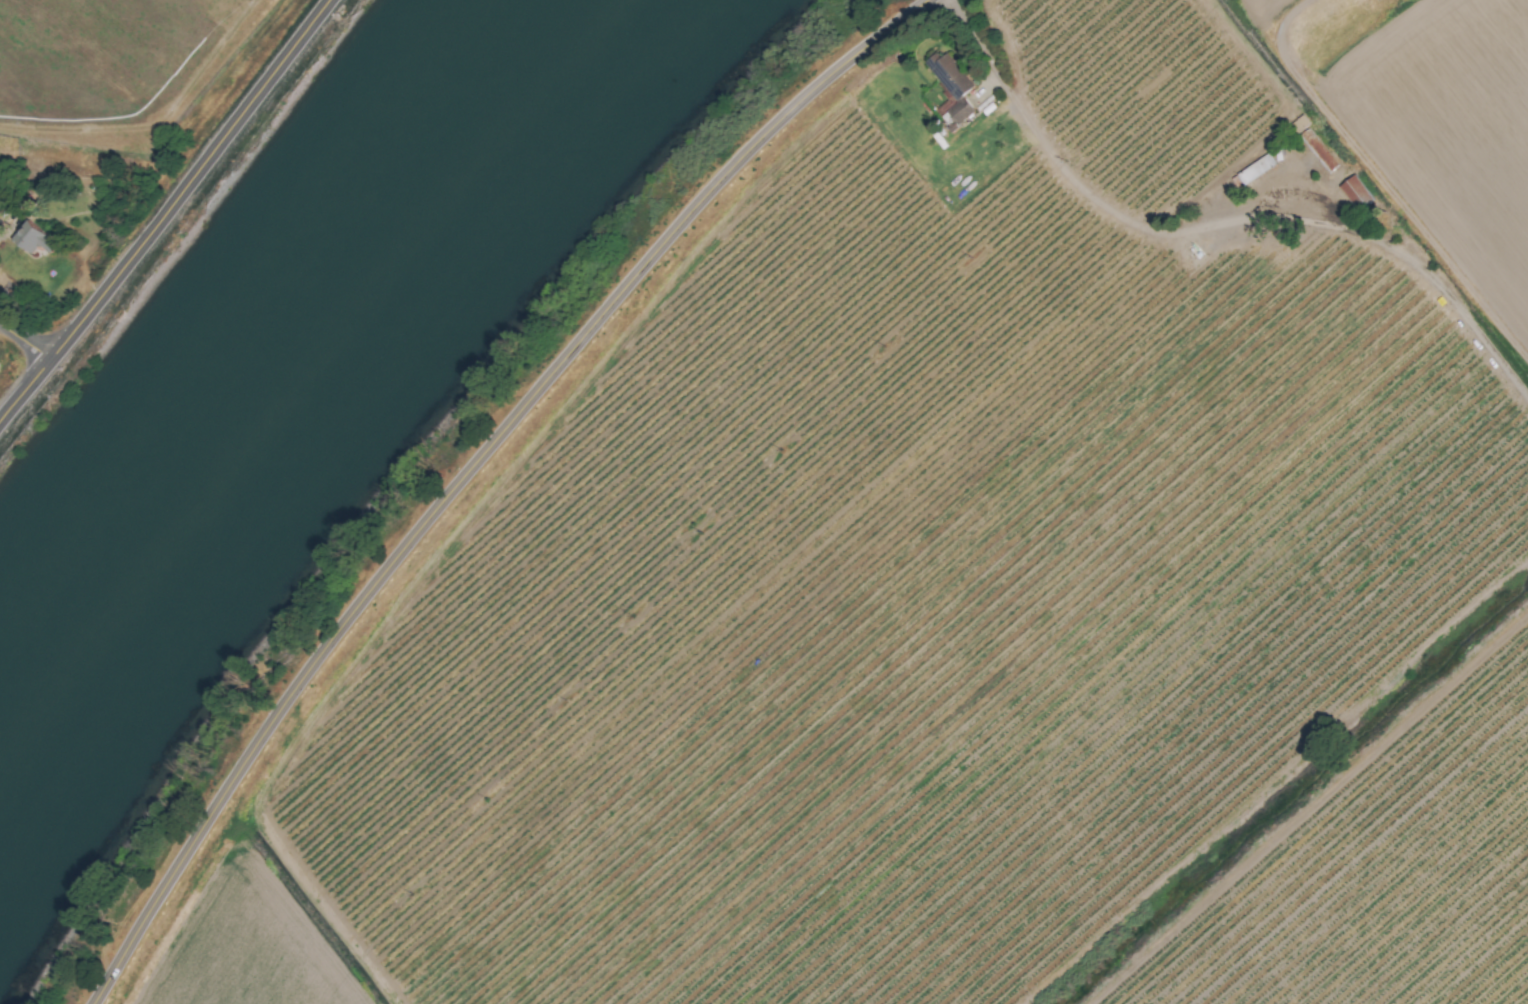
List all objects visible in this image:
building: (949, 77)
crop: (105, 144)
building: (1256, 169)
road: (1074, 185)
building: (1355, 193)
road: (164, 210)
building: (32, 239)
road: (1428, 274)
road: (23, 344)
river: (280, 358)
road: (472, 468)
crop: (971, 567)

